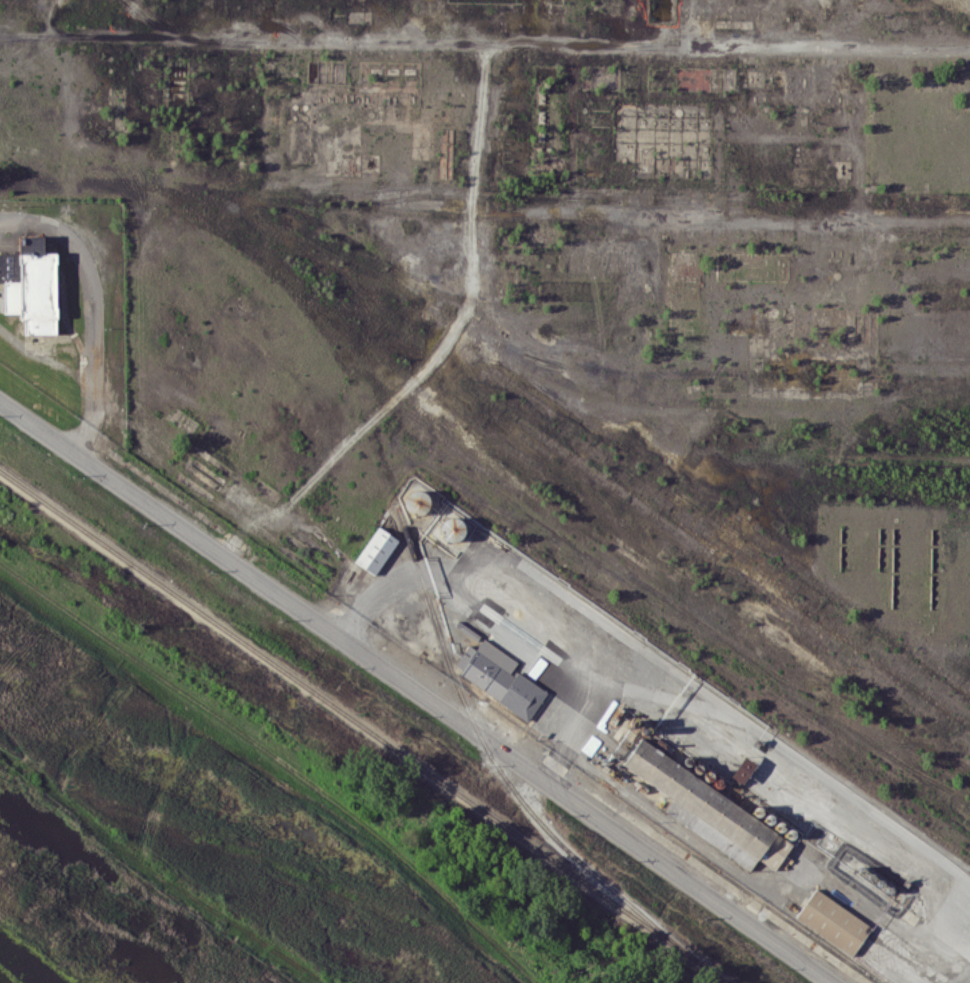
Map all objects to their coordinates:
building: (30, 285)
road: (93, 343)
building: (376, 550)
building: (499, 677)
road: (414, 691)
railway: (363, 727)
building: (742, 769)
railway: (500, 770)
building: (709, 810)
building: (832, 921)

